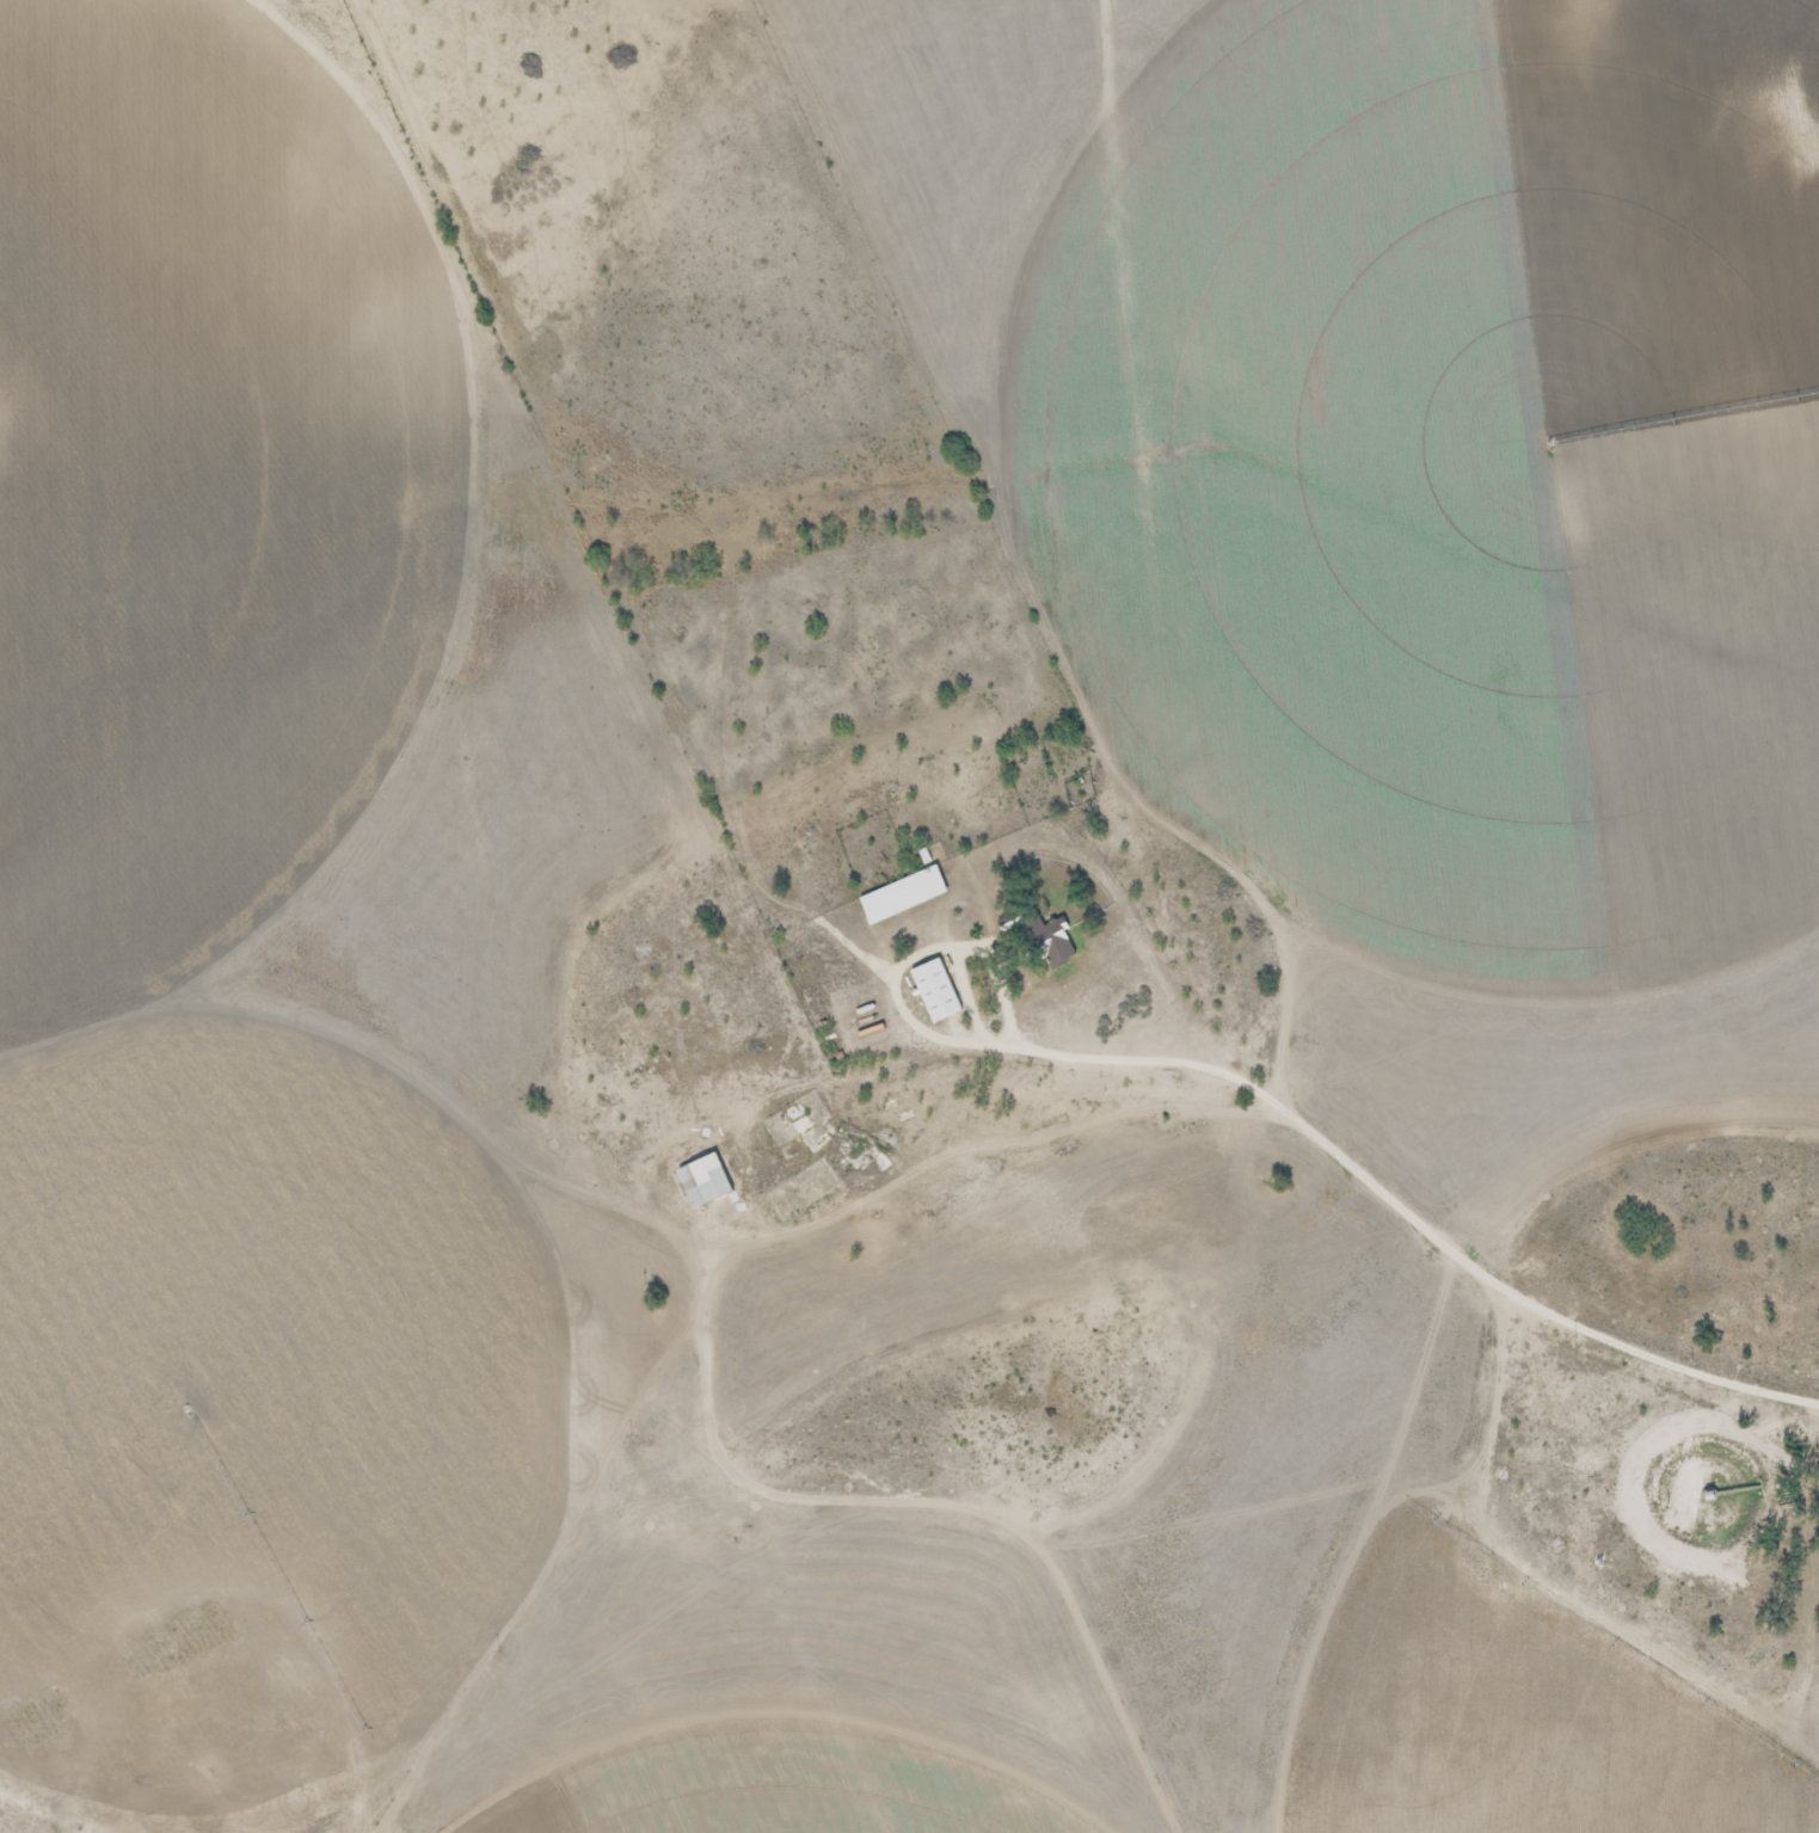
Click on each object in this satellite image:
building: (901, 896)
building: (1049, 943)
building: (934, 991)
building: (800, 1127)
building: (856, 1150)
building: (702, 1181)
road: (1397, 1193)

